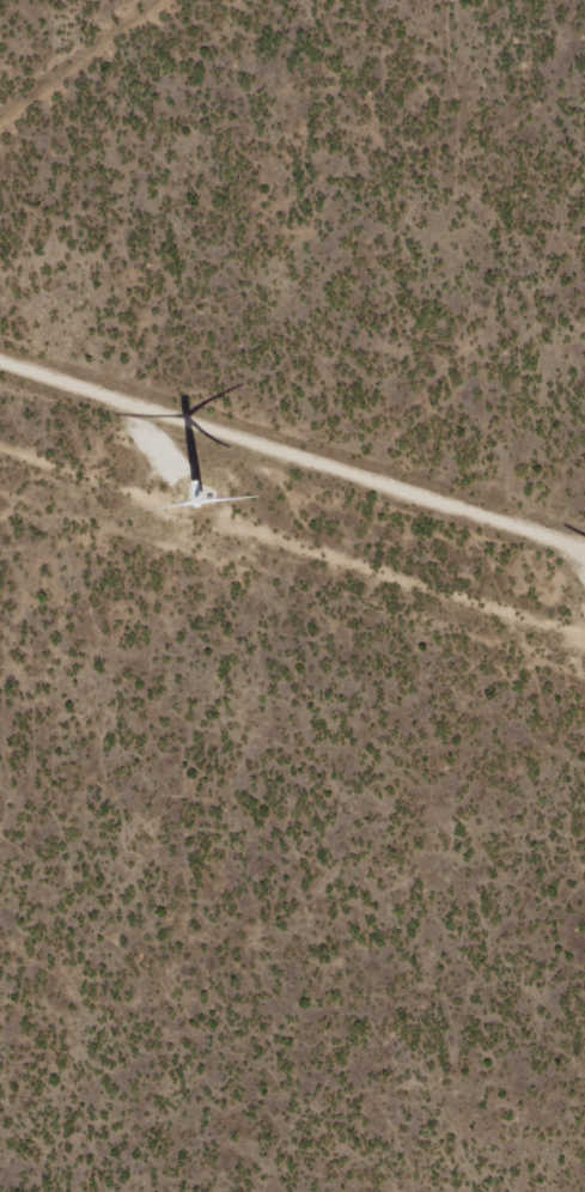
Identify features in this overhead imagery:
road: (91, 69)
wind turbine: (189, 510)

